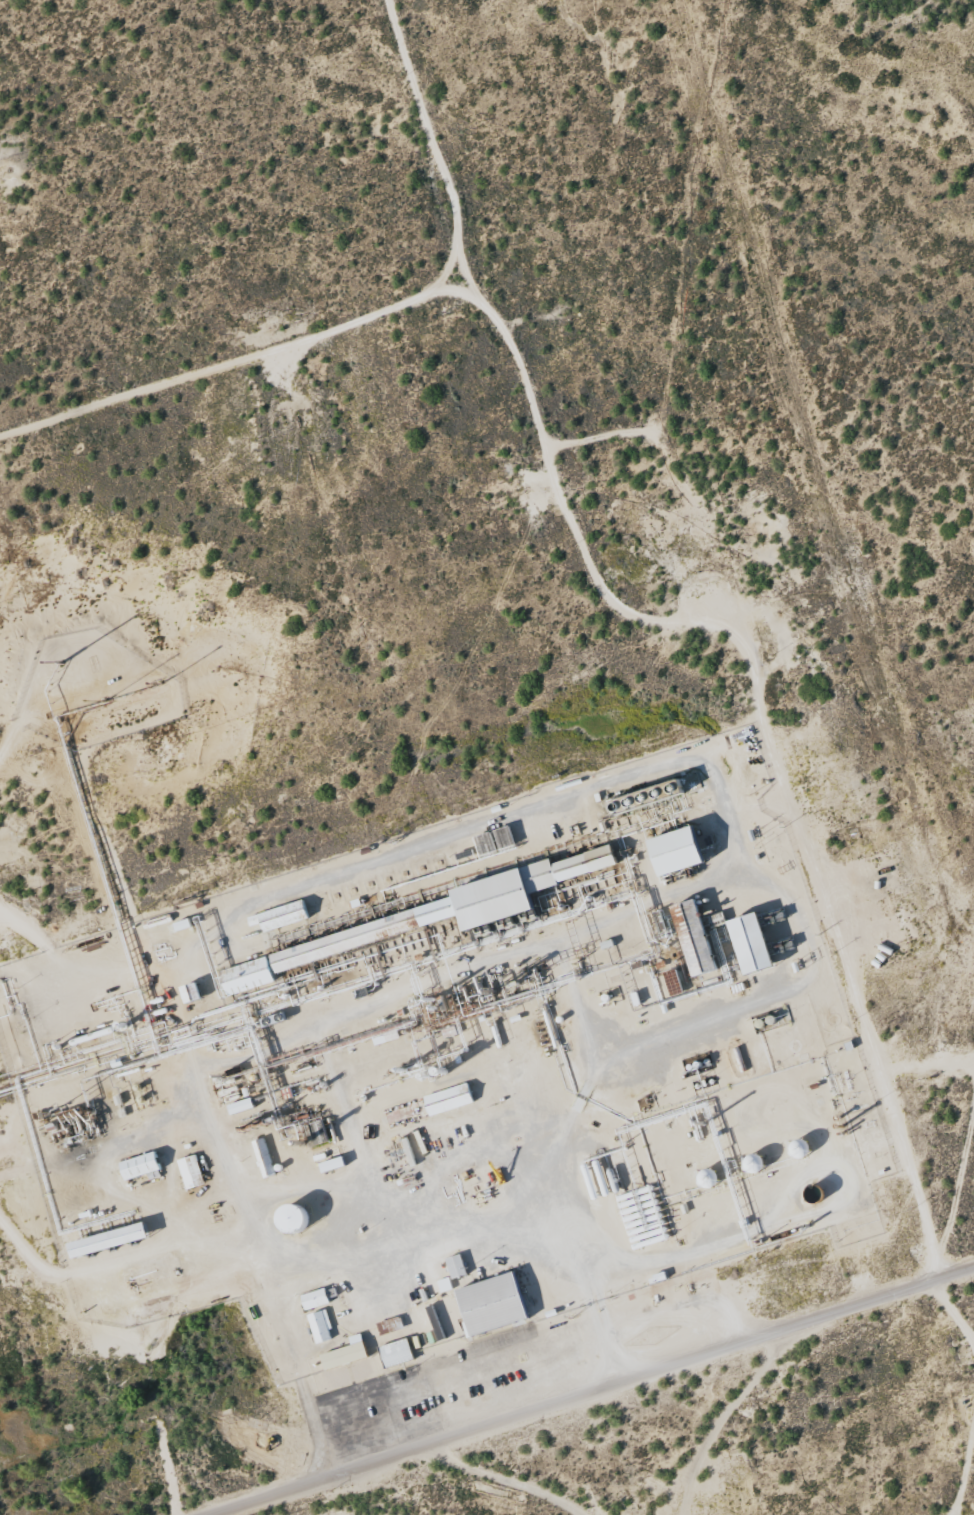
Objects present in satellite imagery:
road: (497, 360)
road: (234, 384)
road: (790, 722)
road: (76, 725)
building: (673, 852)
building: (280, 917)
building: (425, 917)
building: (692, 939)
building: (749, 944)
building: (447, 1100)
building: (138, 1167)
road: (258, 1193)
road: (937, 1194)
building: (106, 1240)
building: (455, 1266)
building: (490, 1304)
building: (320, 1326)
building: (395, 1353)
building: (345, 1354)
road: (592, 1393)
road: (735, 1423)
road: (473, 1487)

